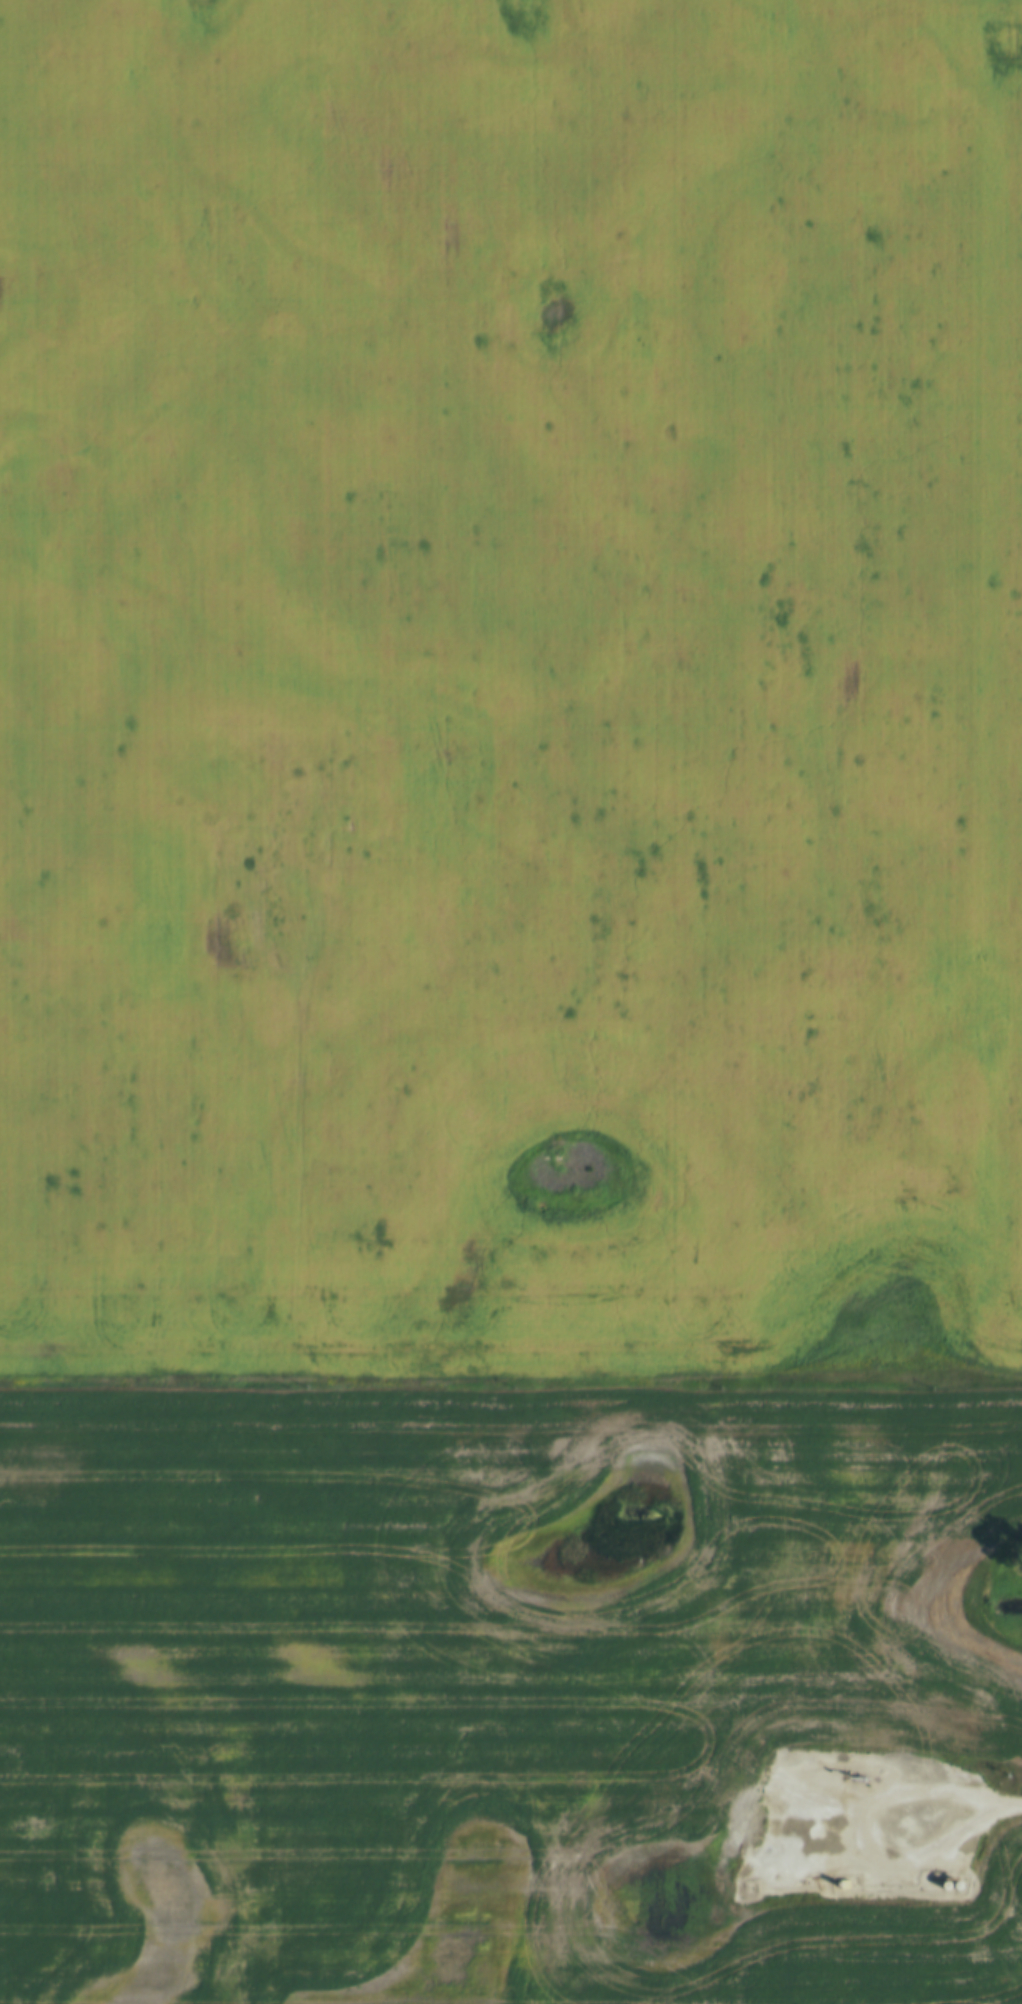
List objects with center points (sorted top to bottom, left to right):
road: (1009, 1800)
road: (866, 1854)

